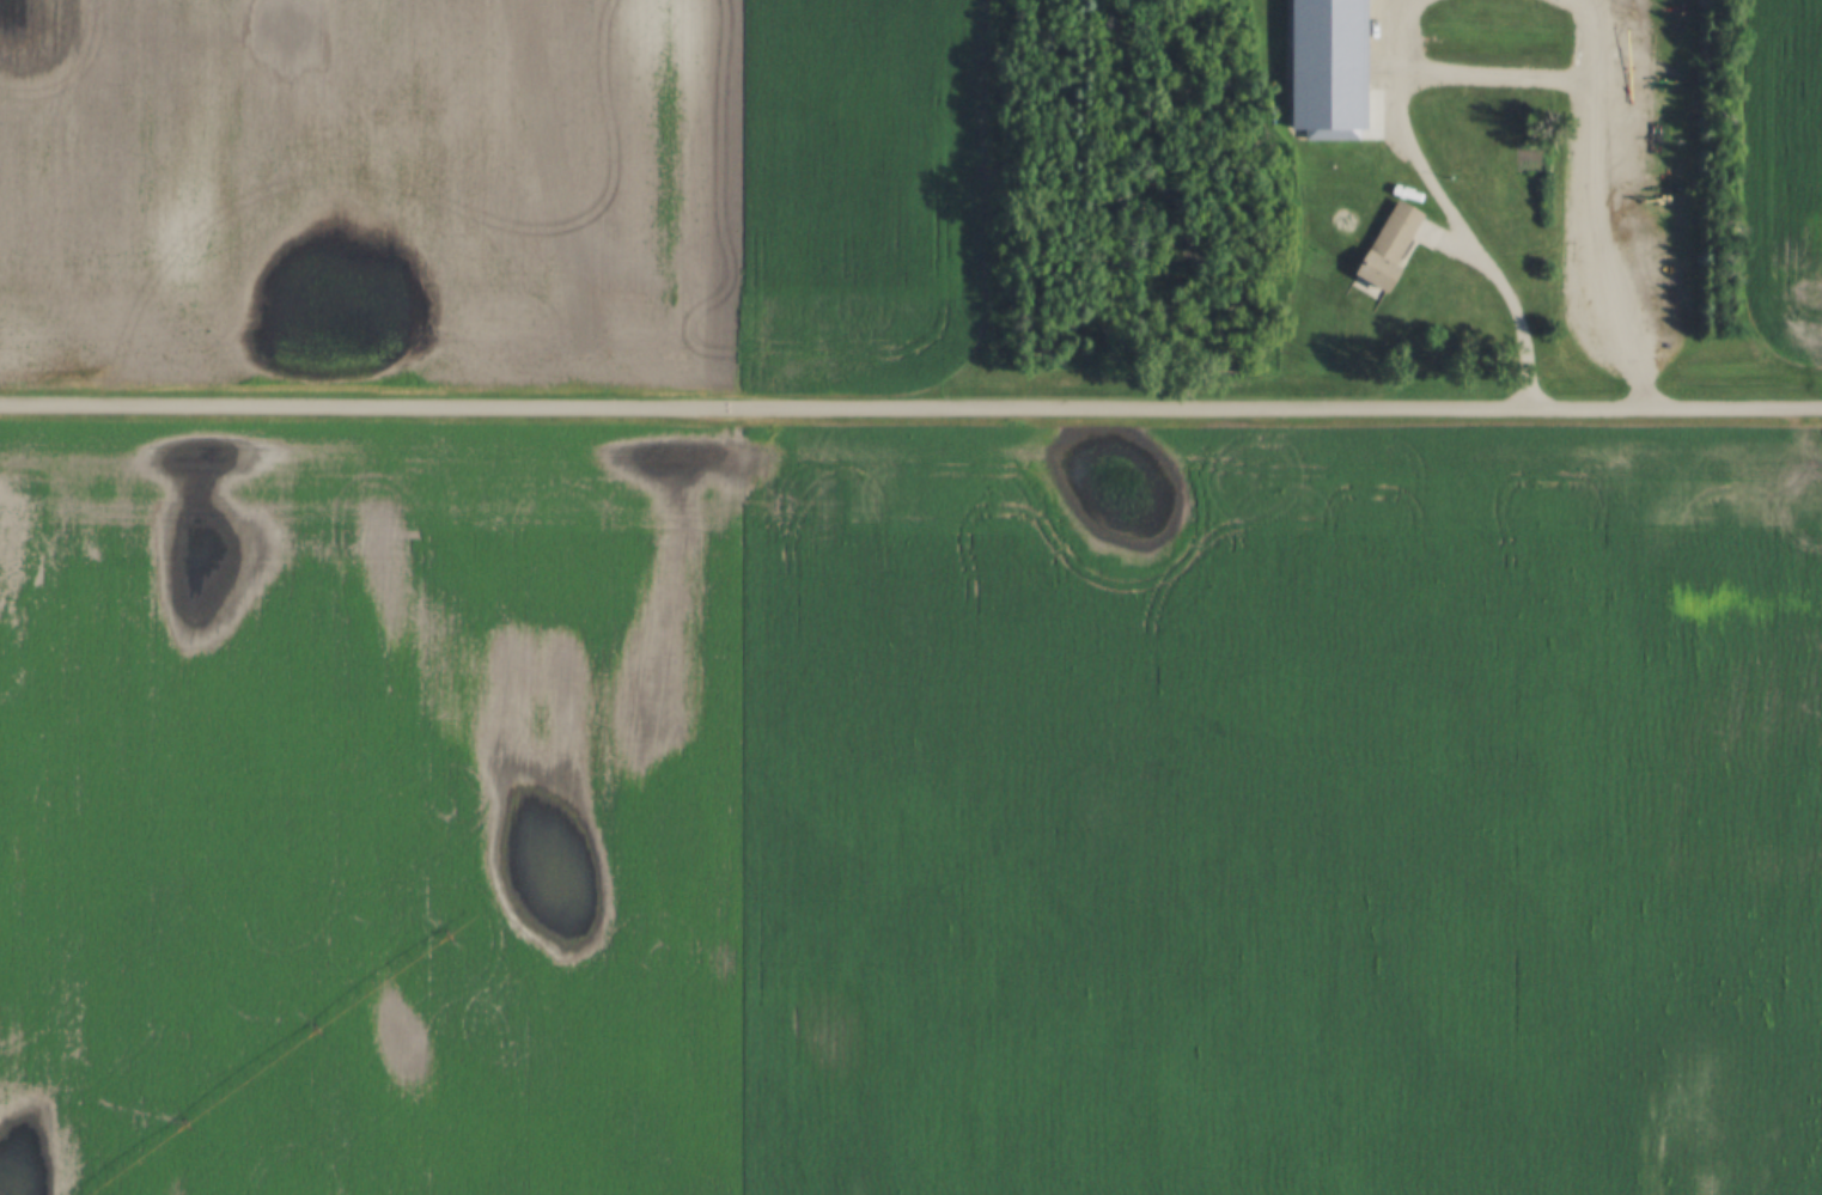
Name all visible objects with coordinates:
road: (1621, 66)
road: (1440, 212)
building: (1389, 245)
road: (910, 409)

